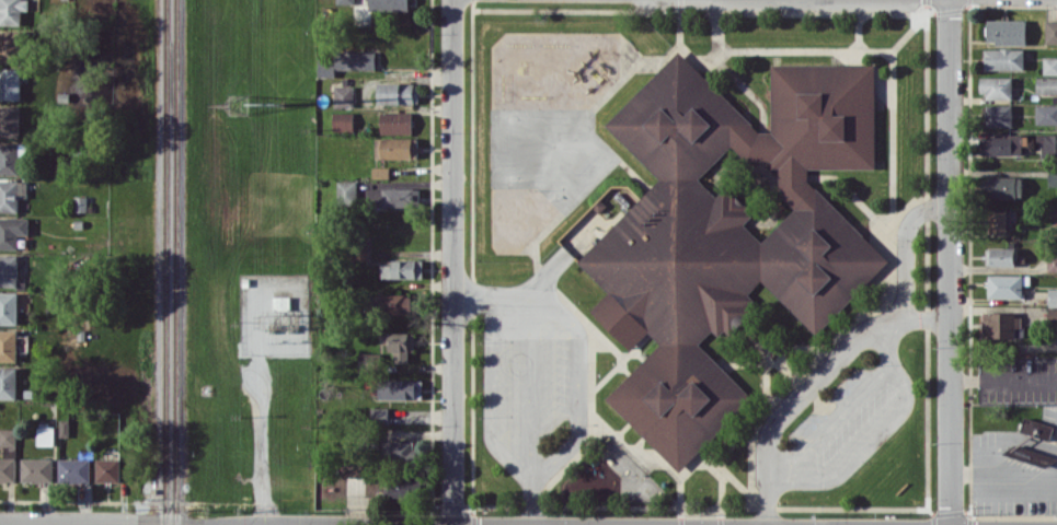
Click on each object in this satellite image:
building: (345, 1)
building: (389, 4)
building: (12, 11)
building: (1006, 32)
building: (1050, 32)
building: (10, 46)
building: (1003, 58)
building: (344, 62)
building: (1049, 65)
building: (10, 83)
building: (1046, 84)
building: (997, 86)
building: (398, 93)
building: (344, 95)
power tower: (239, 101)
power tower: (280, 102)
building: (1046, 114)
building: (999, 115)
building: (10, 120)
building: (343, 121)
building: (397, 121)
building: (1001, 144)
building: (1047, 144)
building: (397, 147)
building: (9, 157)
building: (56, 161)
building: (381, 172)
building: (1053, 176)
building: (1003, 186)
building: (347, 190)
building: (11, 194)
building: (400, 197)
building: (1054, 215)
building: (1001, 220)
building: (12, 231)
building: (728, 232)
building: (1000, 256)
road: (451, 261)
building: (1052, 261)
railway: (165, 262)
railway: (175, 262)
road: (949, 262)
building: (403, 268)
road: (904, 269)
building: (9, 270)
building: (1007, 284)
building: (1053, 296)
building: (392, 303)
building: (8, 307)
power substation: (274, 313)
building: (1053, 315)
building: (1001, 324)
building: (399, 343)
building: (8, 345)
road: (576, 345)
road: (1003, 378)
building: (8, 383)
road: (527, 386)
road: (487, 394)
road: (796, 399)
road: (845, 405)
building: (380, 415)
building: (1036, 428)
road: (258, 430)
building: (45, 435)
building: (8, 436)
road: (863, 450)
building: (399, 451)
building: (8, 469)
building: (37, 469)
building: (74, 469)
building: (107, 469)
road: (1003, 477)
building: (406, 486)
road: (530, 500)
road: (287, 524)
road: (290, 524)

